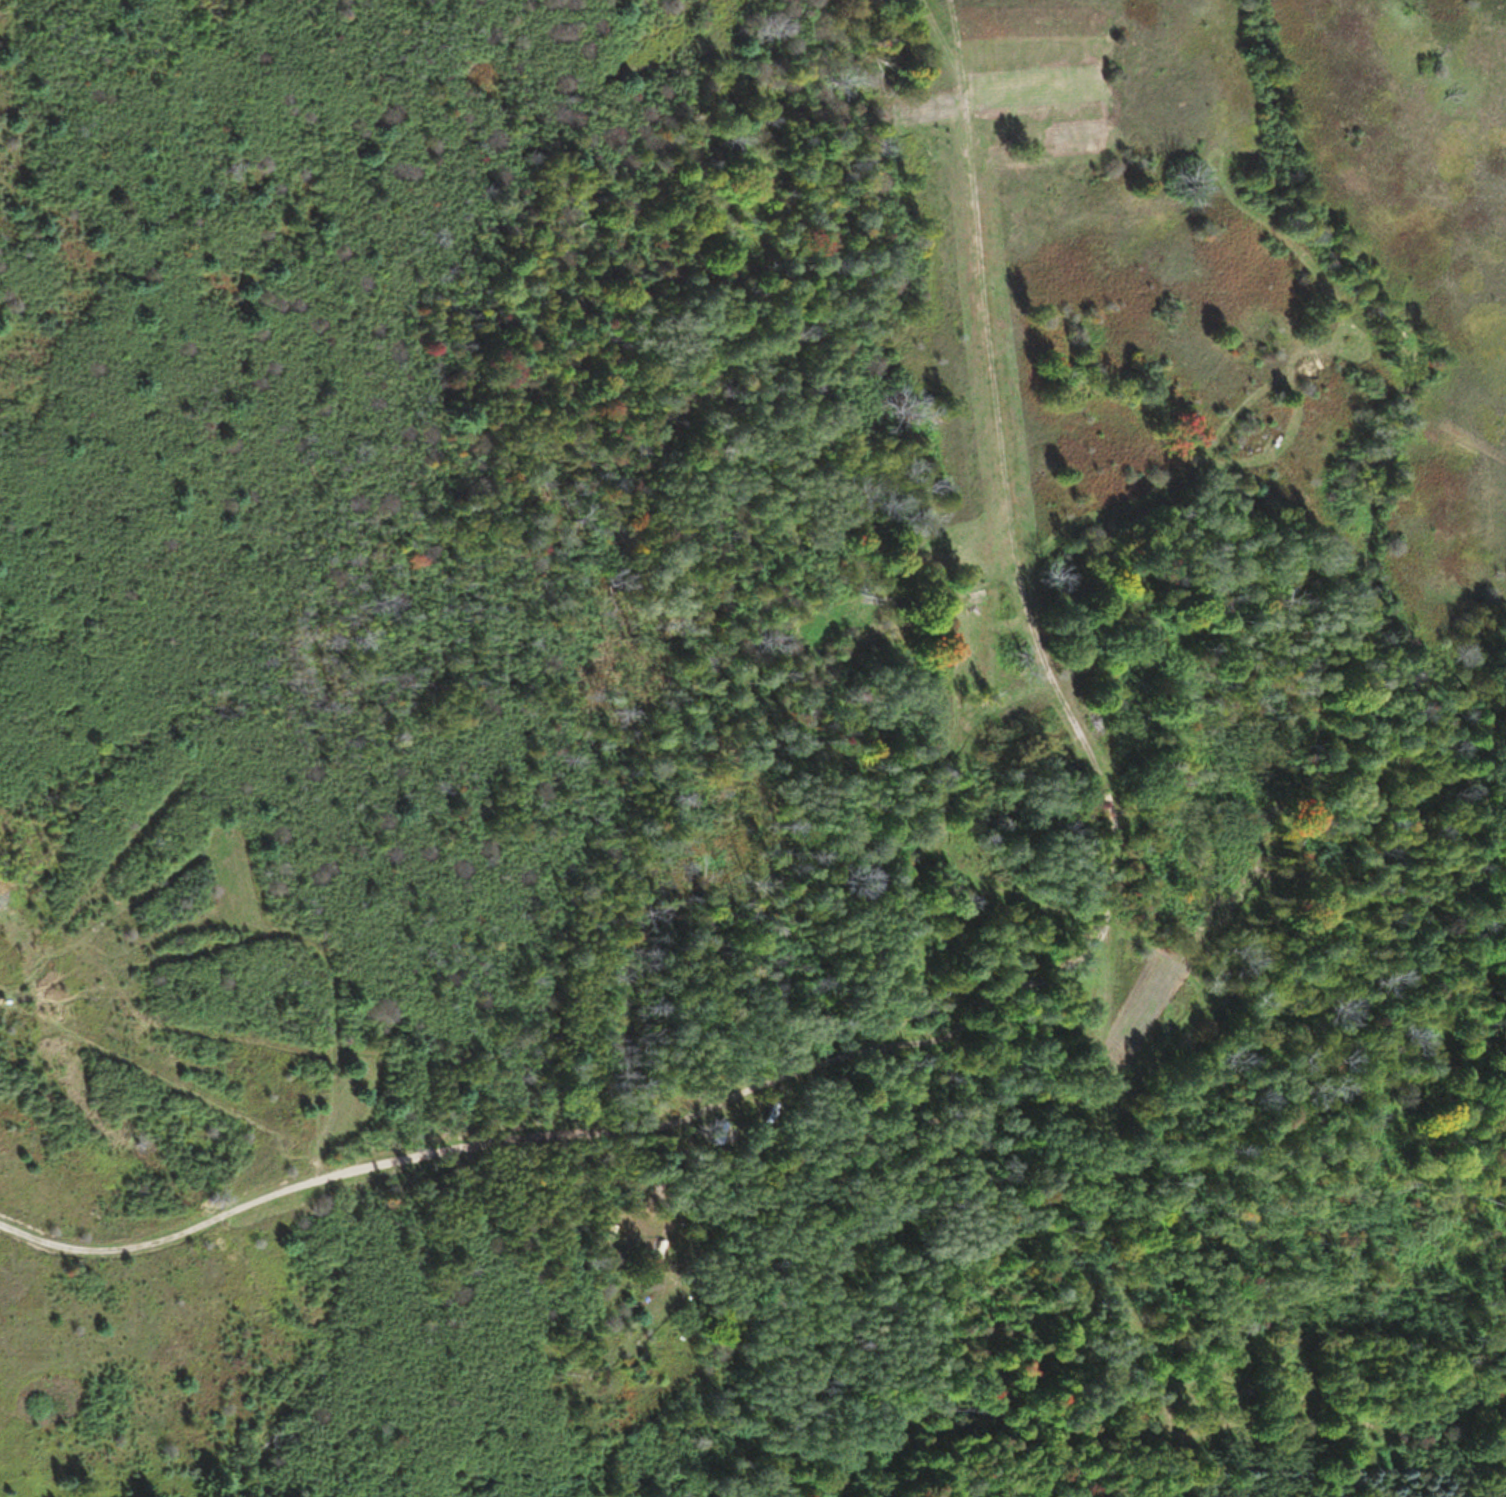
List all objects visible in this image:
road: (468, 1146)

